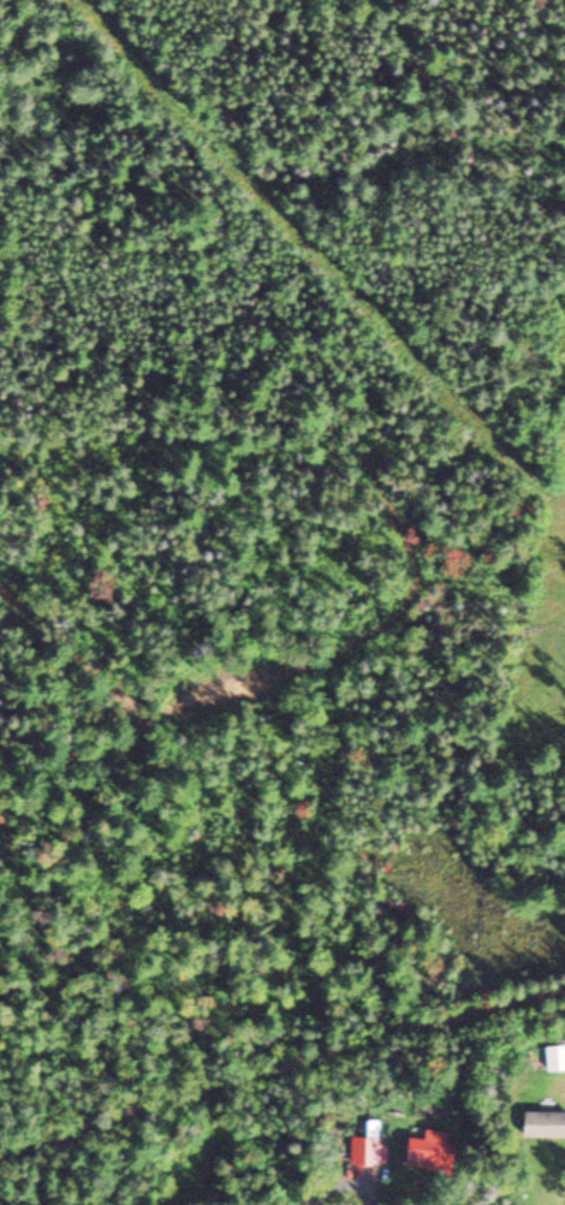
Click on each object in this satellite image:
building: (555, 1055)
road: (282, 1070)
building: (543, 1122)
building: (365, 1147)
building: (428, 1148)

